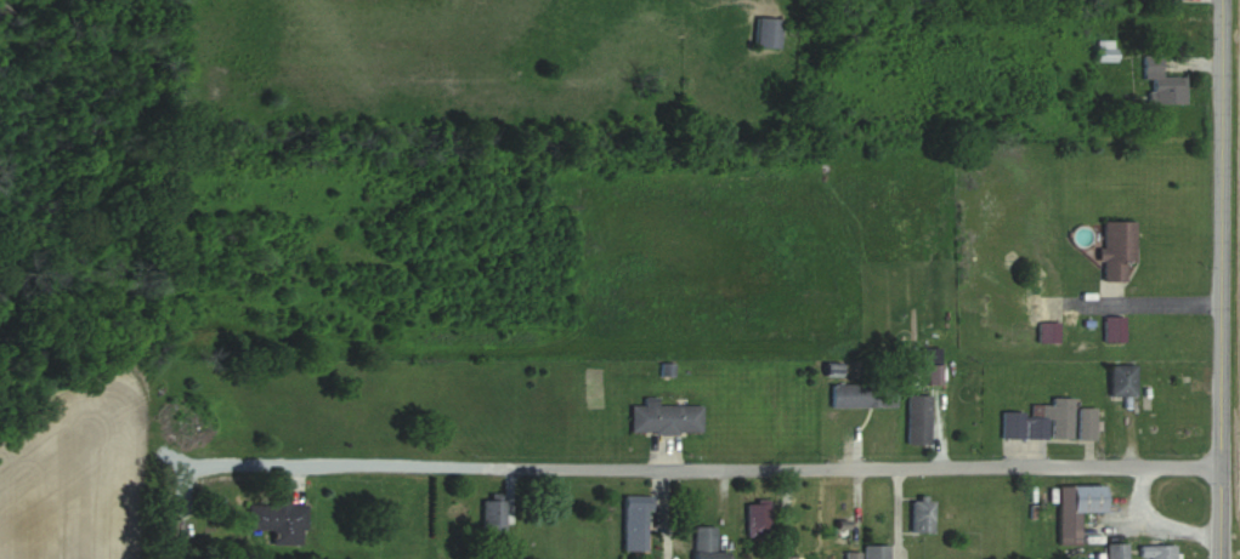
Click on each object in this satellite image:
building: (765, 33)
building: (1104, 51)
building: (1162, 85)
building: (1116, 249)
road: (1222, 279)
road: (1146, 306)
building: (1112, 329)
building: (929, 375)
building: (1120, 381)
building: (861, 397)
building: (663, 417)
building: (918, 420)
building: (1040, 422)
building: (1086, 423)
road: (706, 469)
building: (1075, 508)
building: (492, 514)
building: (921, 514)
building: (755, 518)
building: (279, 519)
building: (634, 523)
building: (704, 543)
building: (876, 551)
building: (1115, 551)
building: (1157, 551)
building: (785, 557)

